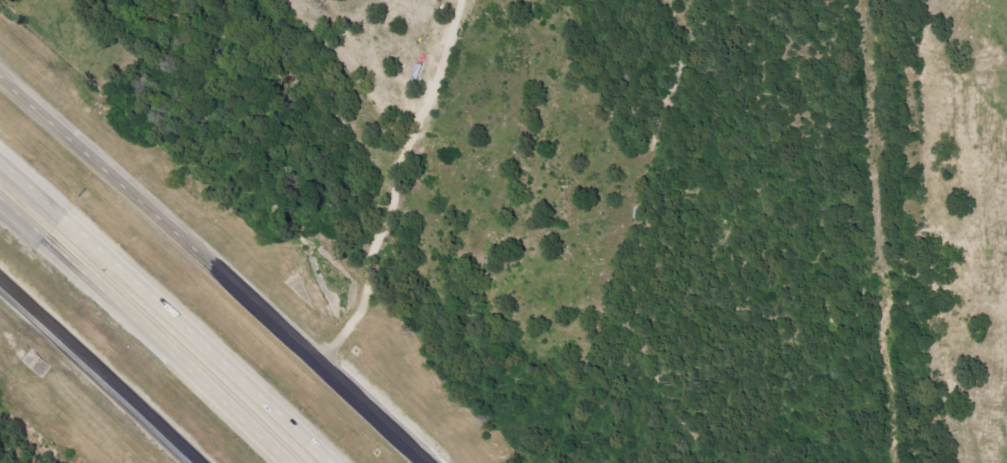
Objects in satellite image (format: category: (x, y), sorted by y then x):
road: (212, 269)
road: (166, 310)
road: (144, 328)
road: (98, 369)

